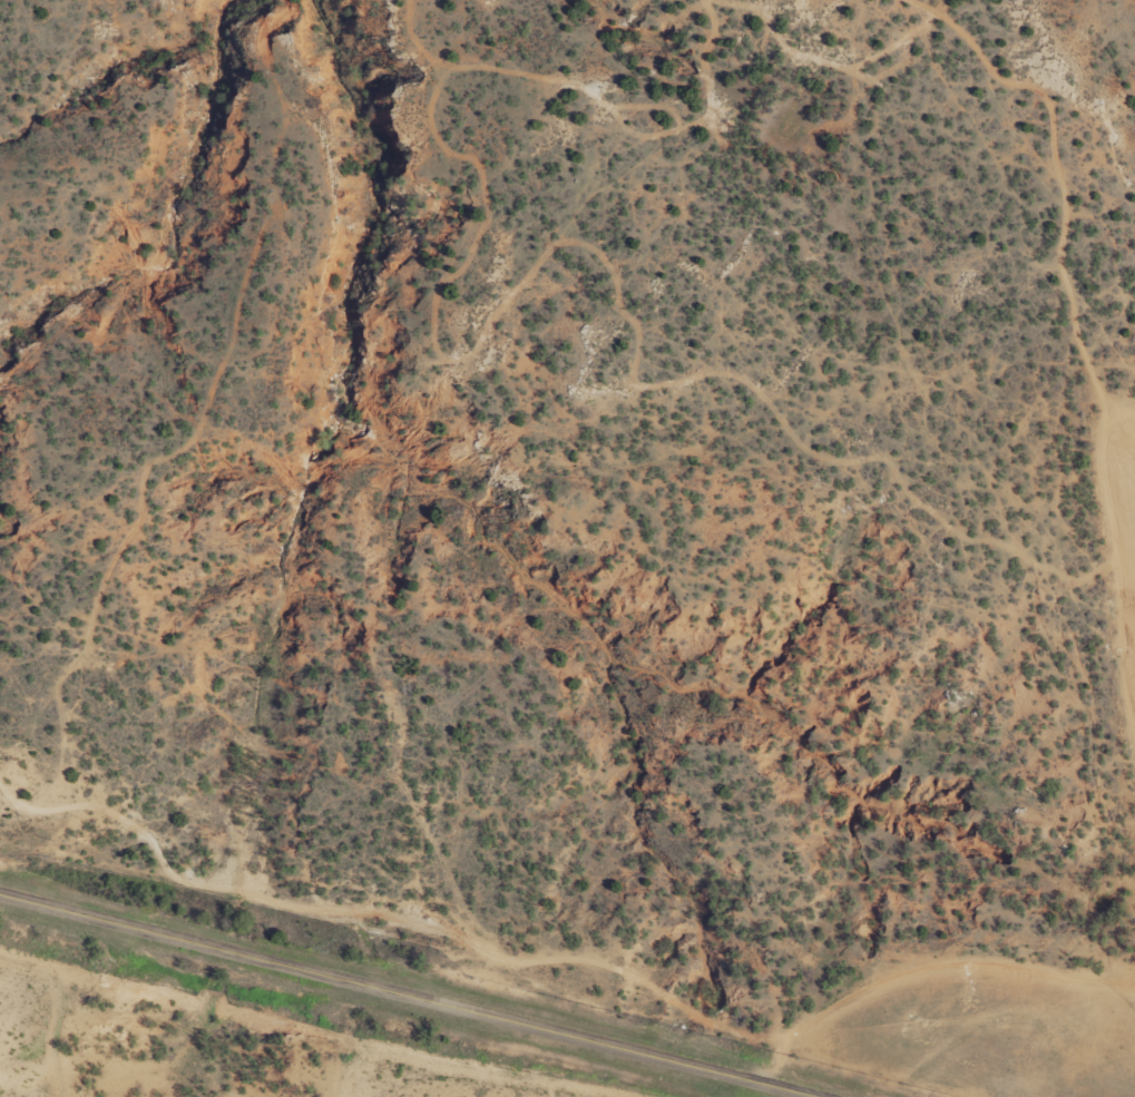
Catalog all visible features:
road: (411, 995)

